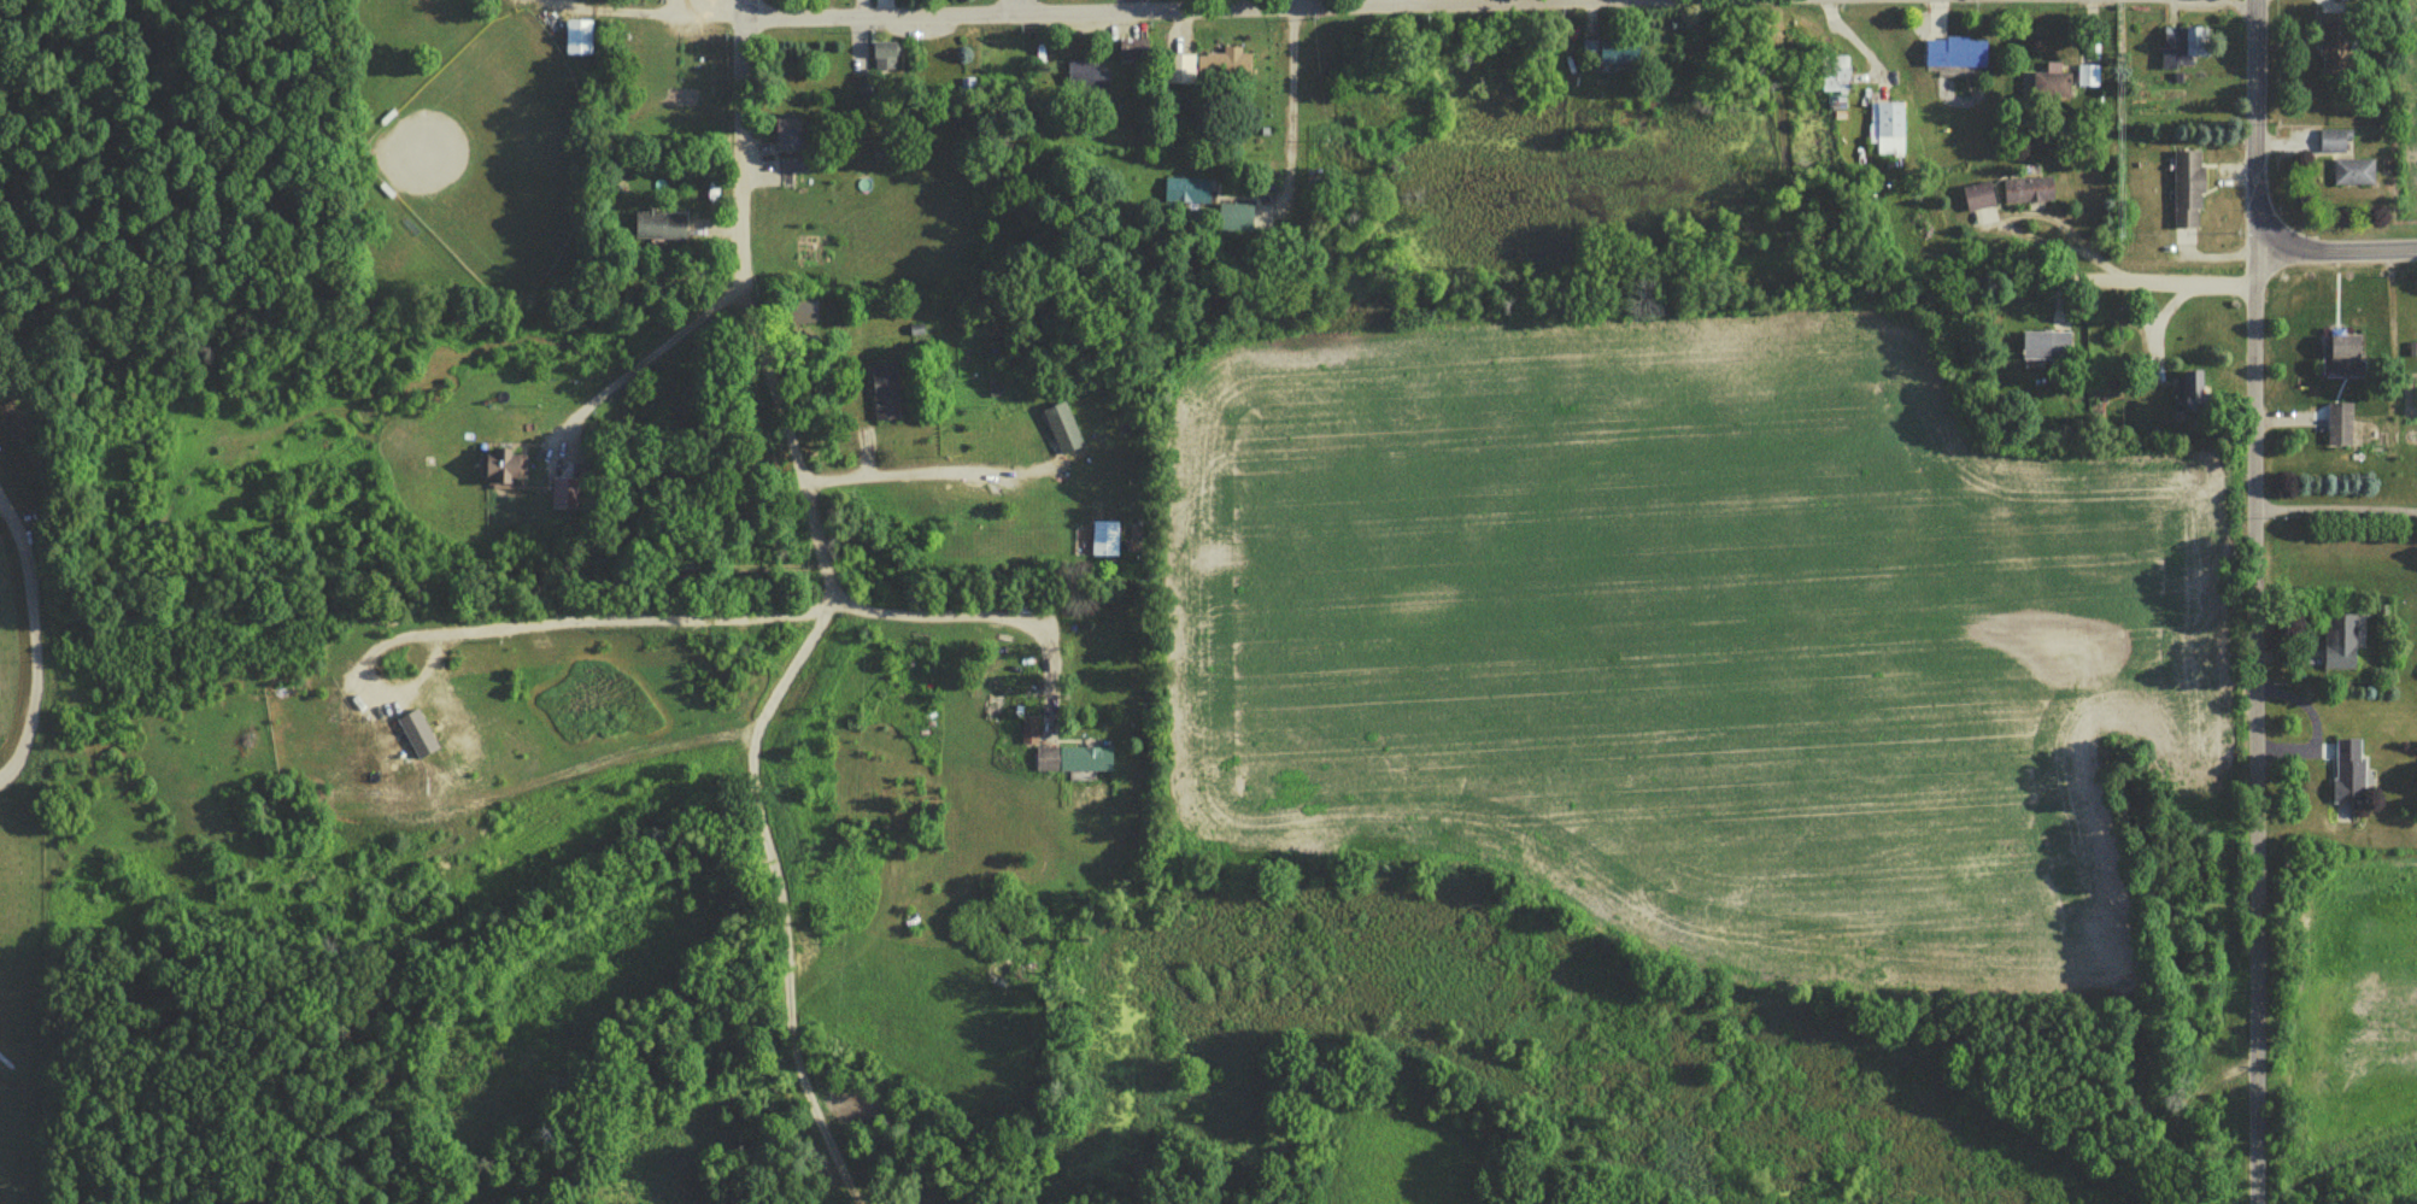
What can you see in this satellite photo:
road: (1562, 0)
road: (1019, 4)
road: (1184, 8)
road: (665, 10)
building: (576, 39)
building: (2334, 42)
building: (2183, 45)
building: (1608, 52)
building: (1954, 53)
building: (1226, 67)
building: (1178, 70)
building: (1834, 74)
building: (2087, 75)
building: (1084, 81)
building: (2049, 86)
building: (966, 87)
road: (1290, 107)
road: (2257, 127)
building: (1887, 128)
building: (786, 139)
building: (2334, 142)
park: (491, 153)
building: (2352, 172)
building: (2184, 189)
building: (2026, 190)
building: (1185, 192)
building: (1977, 196)
building: (1233, 218)
building: (658, 225)
road: (2064, 240)
road: (2339, 252)
road: (2188, 259)
road: (751, 301)
building: (2043, 346)
road: (649, 351)
building: (2343, 353)
building: (884, 392)
building: (2190, 392)
building: (2337, 425)
building: (1061, 429)
building: (499, 466)
road: (917, 468)
road: (2339, 504)
road: (968, 610)
building: (2339, 642)
road: (35, 646)
building: (1028, 728)
road: (2260, 729)
building: (1072, 757)
building: (2347, 769)
road: (775, 893)

